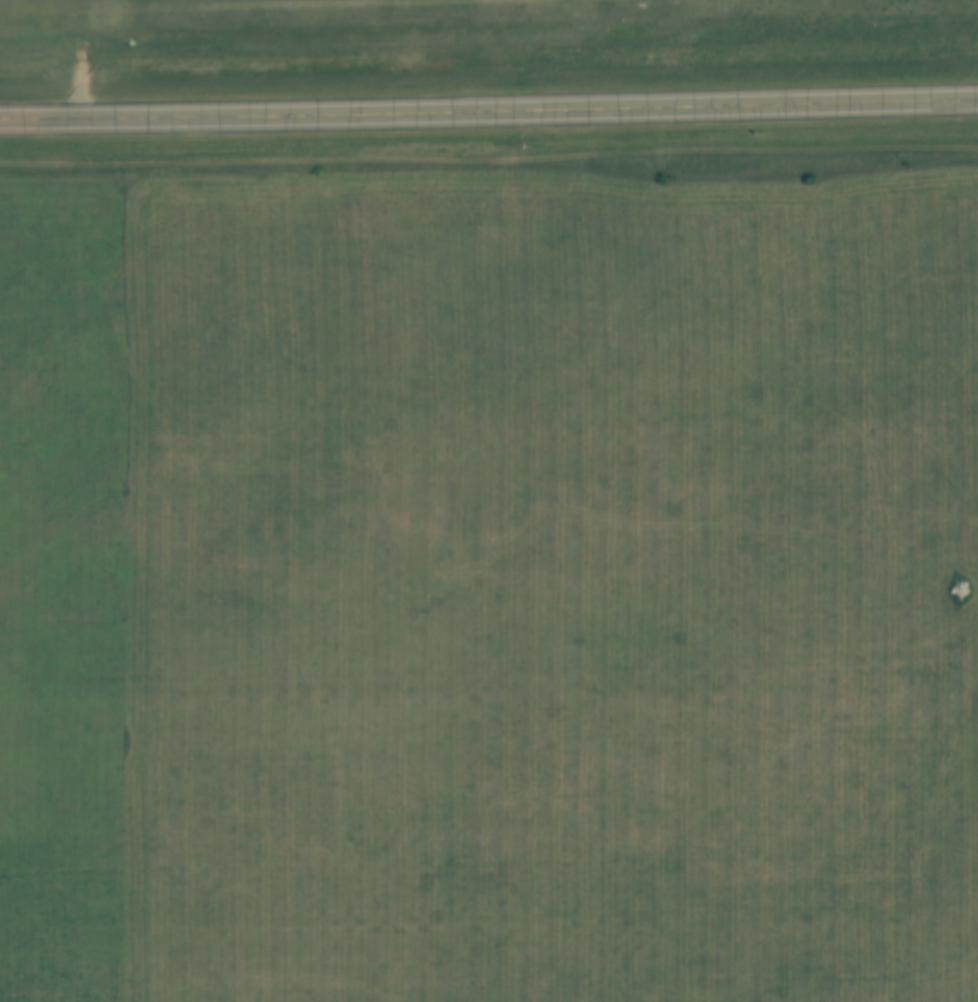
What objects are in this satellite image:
road: (489, 103)

